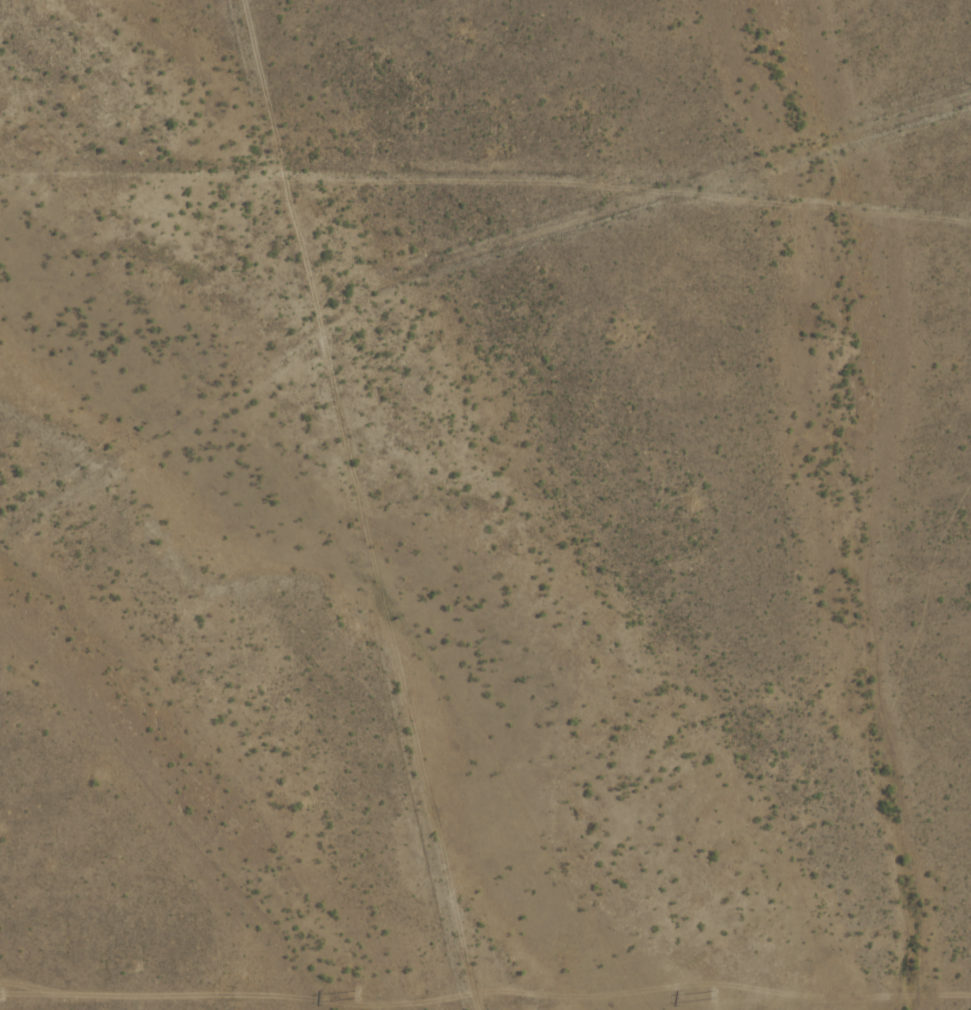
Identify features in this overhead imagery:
power tower: (355, 993)
power tower: (712, 994)

